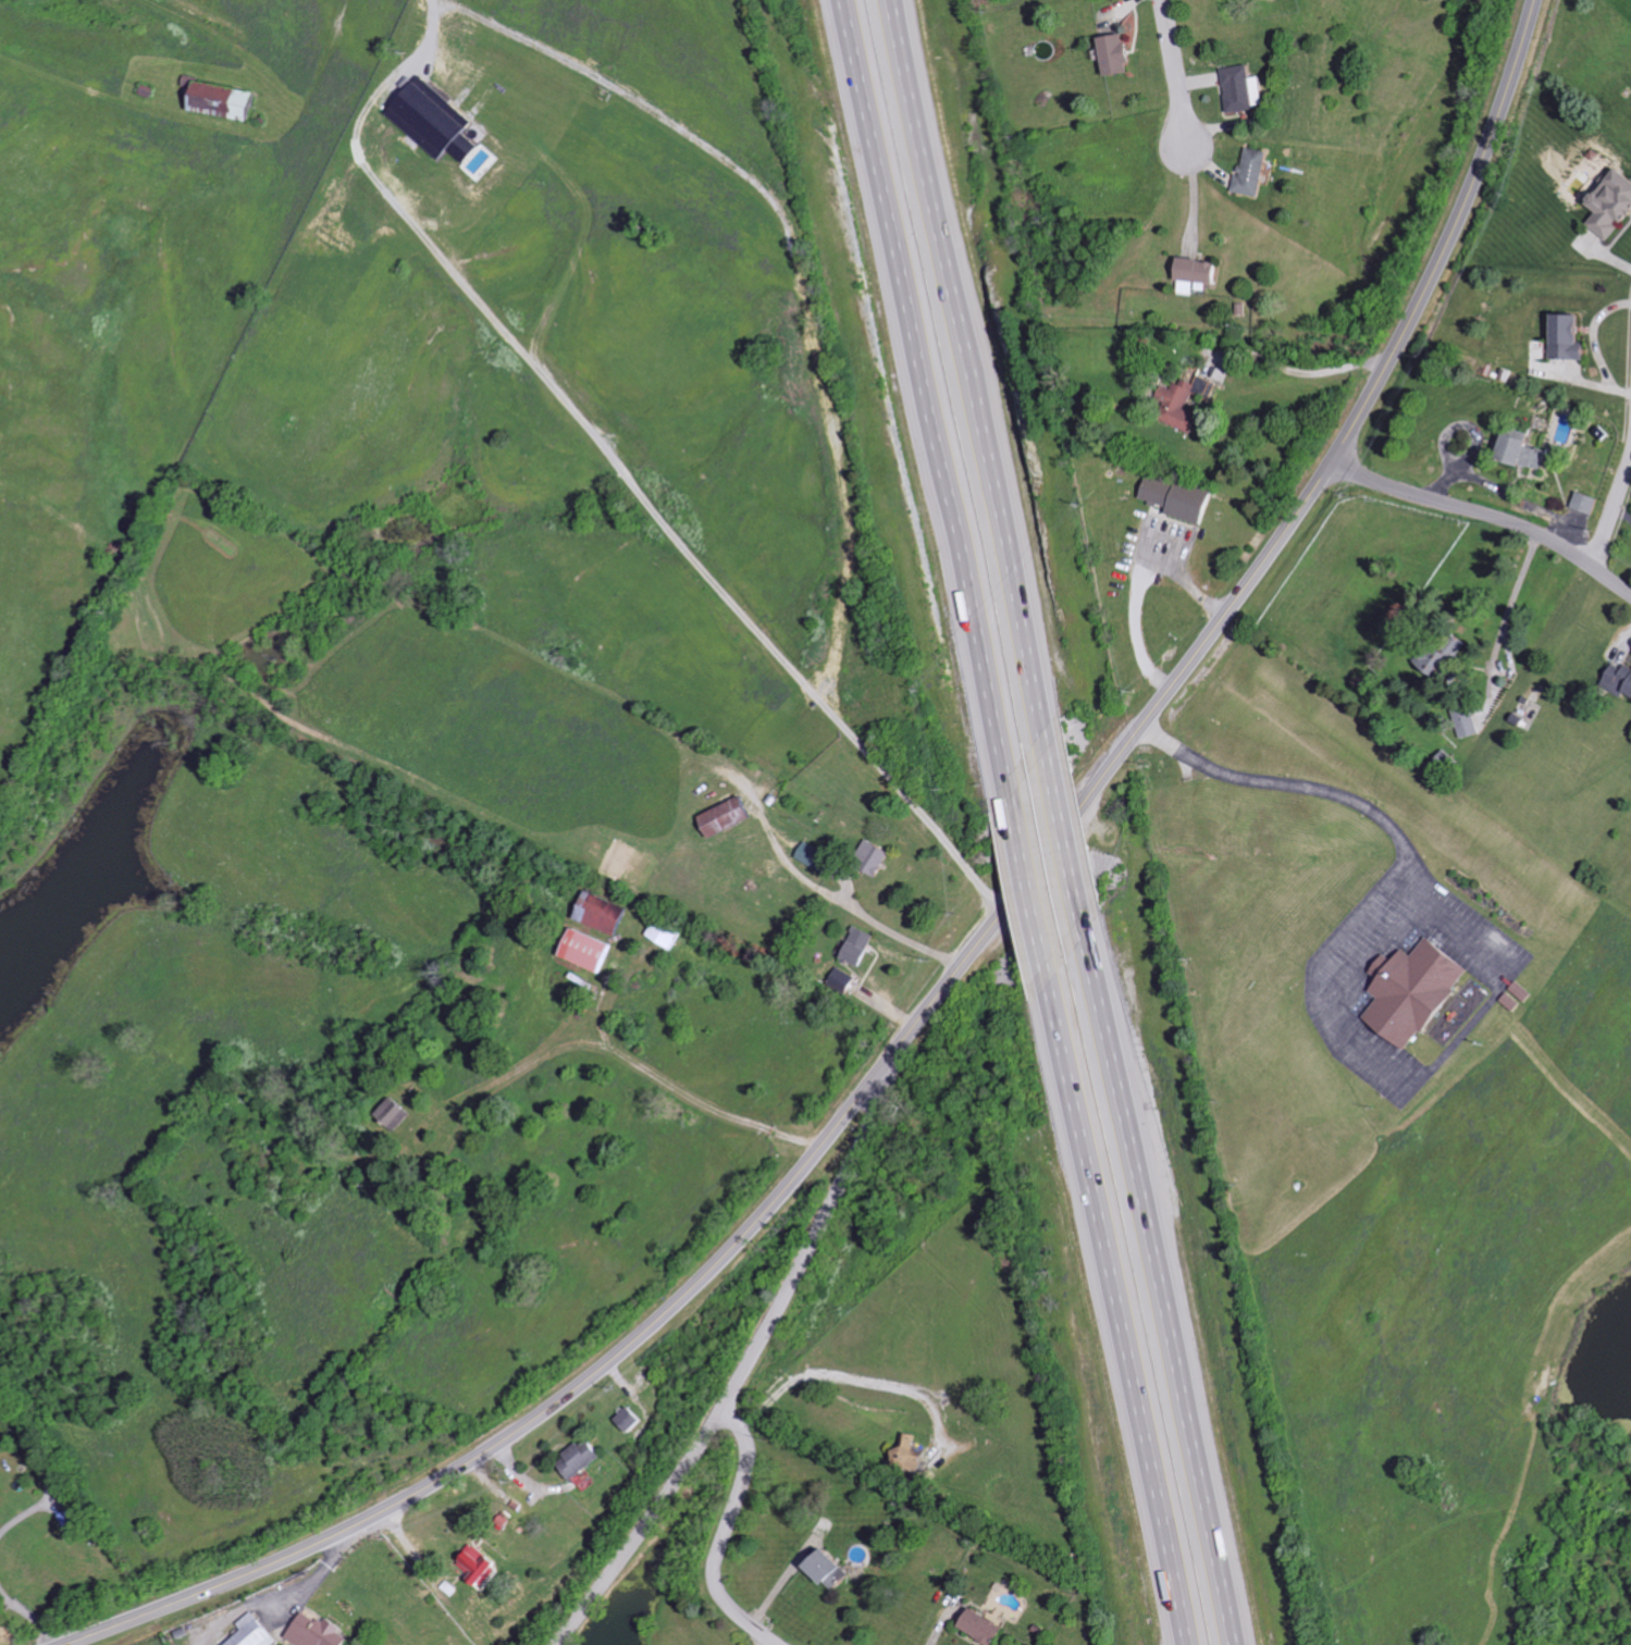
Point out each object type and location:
building: (1120, 54)
road: (1174, 69)
building: (1247, 88)
building: (231, 101)
building: (437, 121)
building: (1258, 171)
building: (1615, 206)
building: (1201, 275)
building: (1572, 337)
road: (1301, 374)
road: (969, 375)
road: (926, 394)
building: (1191, 403)
building: (1527, 452)
building: (1184, 499)
building: (1589, 503)
road: (1611, 511)
road: (1488, 515)
road: (1139, 585)
road: (1496, 656)
building: (1437, 659)
building: (1621, 679)
building: (1468, 720)
building: (732, 815)
road: (1065, 834)
road: (1406, 848)
building: (878, 855)
building: (819, 858)
road: (1028, 874)
building: (608, 913)
road: (897, 930)
building: (669, 932)
road: (1466, 932)
building: (863, 945)
building: (592, 950)
road: (959, 970)
building: (845, 980)
building: (1418, 990)
building: (397, 1113)
road: (1158, 1281)
road: (1116, 1301)
road: (747, 1365)
road: (849, 1375)
building: (637, 1419)
building: (909, 1452)
building: (585, 1458)
road: (25, 1512)
road: (725, 1534)
building: (483, 1563)
building: (833, 1569)
road: (32, 1612)
building: (987, 1627)
building: (257, 1632)
building: (321, 1632)

